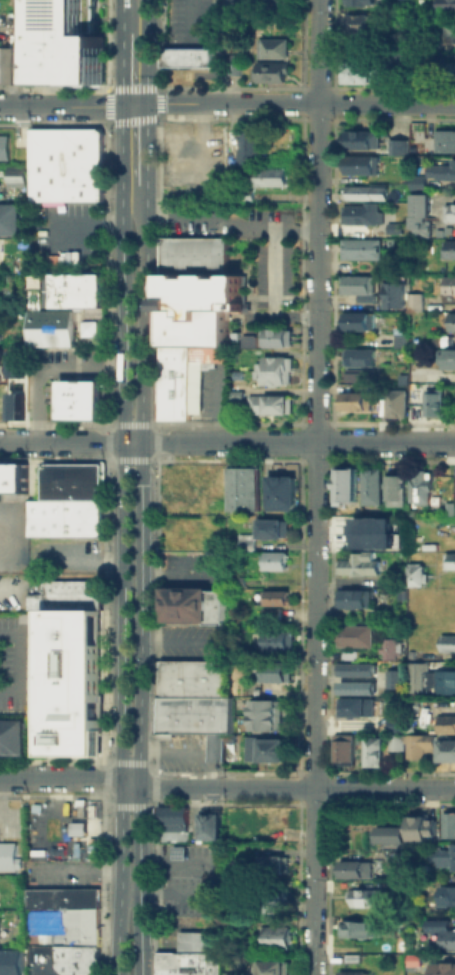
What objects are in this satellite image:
building: (360, 1)
building: (447, 3)
parking lot: (263, 5)
road: (122, 15)
parking lot: (182, 18)
road: (223, 21)
building: (356, 22)
building: (450, 30)
road: (214, 41)
building: (69, 45)
road: (146, 51)
building: (275, 52)
building: (187, 56)
building: (7, 62)
building: (393, 62)
building: (233, 63)
road: (121, 67)
building: (453, 69)
building: (355, 72)
building: (270, 76)
traffic signals: (146, 104)
road: (300, 104)
traffic signals: (121, 106)
road: (73, 107)
building: (362, 139)
building: (444, 139)
road: (146, 143)
building: (249, 145)
building: (398, 145)
building: (3, 147)
building: (358, 162)
building: (65, 163)
building: (441, 170)
building: (14, 176)
building: (268, 176)
building: (416, 181)
building: (365, 191)
building: (0, 196)
building: (448, 211)
building: (361, 212)
building: (418, 214)
building: (10, 224)
road: (102, 224)
road: (232, 226)
building: (392, 227)
parking lot: (64, 234)
road: (52, 241)
building: (360, 248)
building: (449, 248)
building: (192, 254)
building: (73, 281)
building: (168, 284)
building: (357, 284)
building: (448, 285)
road: (270, 293)
building: (392, 295)
building: (32, 297)
building: (72, 298)
building: (414, 300)
building: (204, 312)
building: (358, 320)
building: (451, 320)
building: (50, 326)
building: (169, 327)
building: (276, 336)
building: (398, 339)
building: (247, 341)
building: (230, 352)
building: (358, 356)
building: (447, 357)
building: (0, 363)
building: (272, 363)
road: (42, 364)
building: (355, 374)
building: (271, 375)
building: (178, 382)
building: (78, 383)
building: (77, 393)
building: (353, 400)
building: (432, 401)
building: (394, 402)
building: (270, 403)
building: (78, 408)
road: (70, 443)
road: (123, 443)
road: (298, 443)
building: (13, 476)
building: (70, 483)
building: (345, 484)
building: (454, 484)
building: (370, 485)
building: (242, 487)
road: (316, 487)
building: (420, 487)
building: (394, 489)
building: (281, 493)
building: (449, 508)
building: (63, 518)
building: (269, 527)
building: (373, 532)
parking lot: (12, 535)
building: (244, 544)
parking lot: (62, 554)
building: (450, 559)
building: (274, 560)
building: (357, 564)
parking lot: (194, 573)
building: (415, 573)
road: (140, 578)
building: (392, 578)
building: (235, 580)
building: (63, 594)
building: (348, 597)
building: (271, 603)
building: (194, 609)
building: (353, 634)
building: (272, 636)
building: (389, 641)
building: (447, 642)
parking lot: (194, 645)
parking lot: (16, 660)
road: (18, 663)
building: (356, 668)
building: (271, 670)
building: (392, 676)
building: (418, 676)
building: (69, 680)
building: (194, 681)
building: (444, 681)
building: (356, 688)
building: (354, 707)
building: (263, 714)
building: (197, 717)
building: (445, 723)
building: (394, 725)
building: (4, 736)
building: (17, 736)
building: (394, 742)
building: (418, 743)
building: (269, 749)
building: (342, 750)
building: (446, 750)
building: (371, 751)
parking lot: (197, 755)
road: (60, 778)
road: (130, 783)
road: (296, 788)
building: (172, 815)
building: (209, 823)
building: (419, 823)
building: (447, 823)
building: (389, 834)
building: (7, 855)
building: (445, 858)
road: (75, 868)
building: (274, 868)
building: (355, 868)
parking lot: (61, 872)
road: (120, 878)
parking lot: (191, 880)
road: (214, 887)
building: (445, 894)
building: (61, 896)
building: (363, 897)
building: (275, 900)
building: (79, 923)
building: (360, 929)
building: (441, 934)
building: (197, 940)
building: (278, 941)
building: (74, 957)
building: (350, 957)
building: (411, 960)
building: (10, 961)
building: (188, 963)
building: (442, 969)
building: (273, 970)
building: (352, 973)

